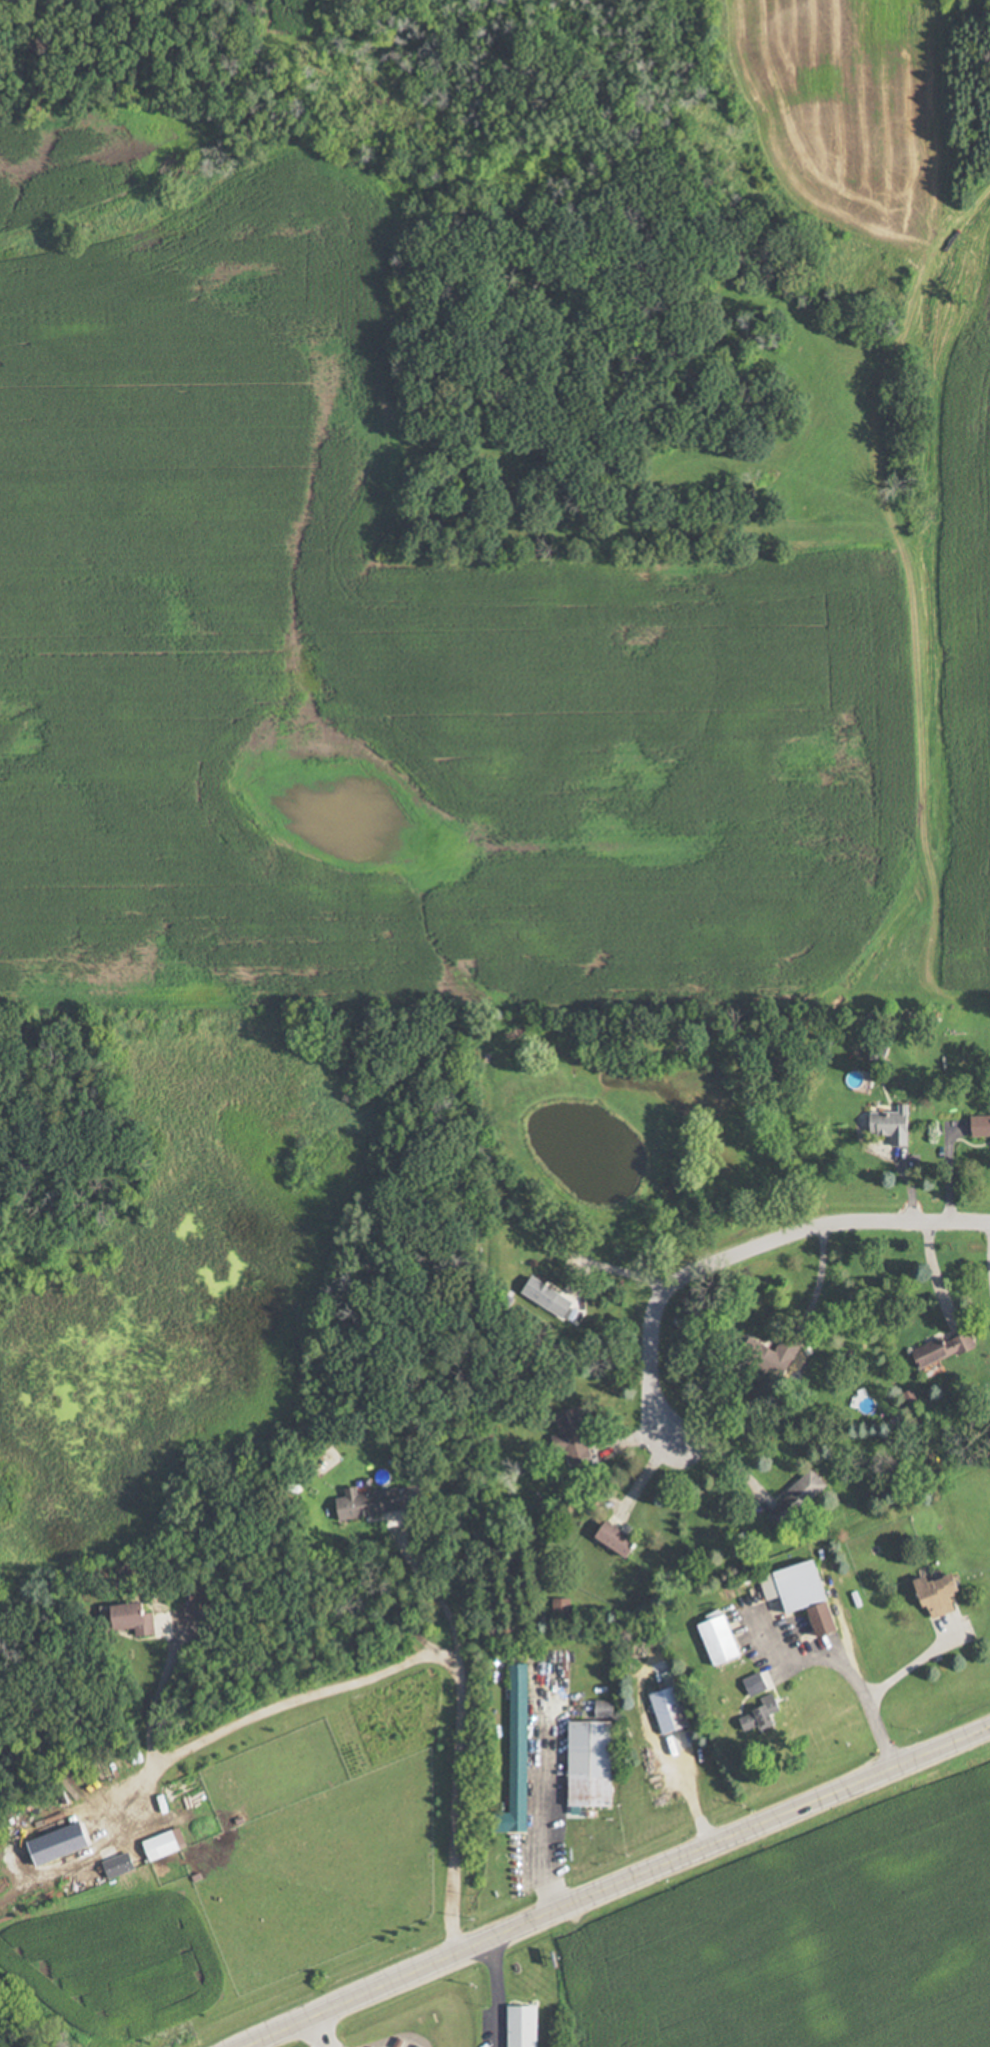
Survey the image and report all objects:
building: (895, 1124)
building: (982, 1125)
road: (747, 1248)
road: (613, 1269)
road: (930, 1275)
building: (552, 1297)
building: (946, 1349)
building: (575, 1439)
road: (714, 1460)
building: (799, 1499)
building: (373, 1502)
building: (621, 1540)
building: (806, 1593)
building: (943, 1594)
road: (438, 1598)
building: (140, 1617)
road: (415, 1657)
road: (909, 1667)
road: (854, 1681)
building: (671, 1710)
building: (765, 1716)
building: (519, 1755)
building: (593, 1763)
road: (541, 1805)
building: (167, 1843)
building: (121, 1865)
road: (630, 1888)
building: (525, 2026)
road: (313, 2038)

